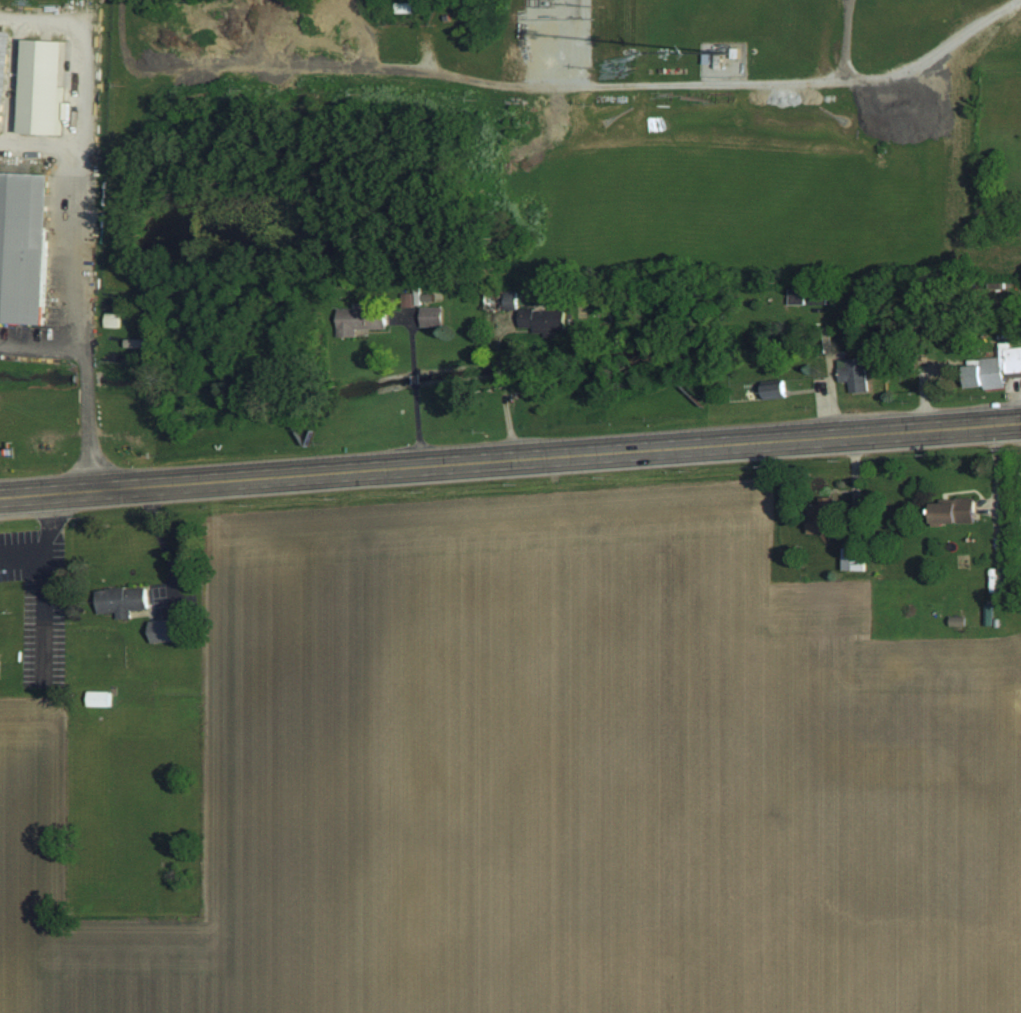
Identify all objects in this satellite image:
building: (4, 67)
building: (42, 87)
road: (75, 220)
building: (24, 247)
building: (406, 300)
building: (508, 300)
building: (431, 317)
building: (542, 319)
building: (360, 320)
building: (111, 321)
road: (496, 343)
road: (410, 347)
road: (41, 348)
road: (499, 362)
building: (995, 369)
building: (855, 374)
road: (412, 375)
building: (775, 392)
road: (507, 412)
road: (87, 419)
road: (416, 423)
road: (510, 458)
building: (956, 512)
building: (825, 518)
road: (160, 536)
building: (854, 560)
building: (122, 602)
building: (165, 631)
building: (99, 698)

